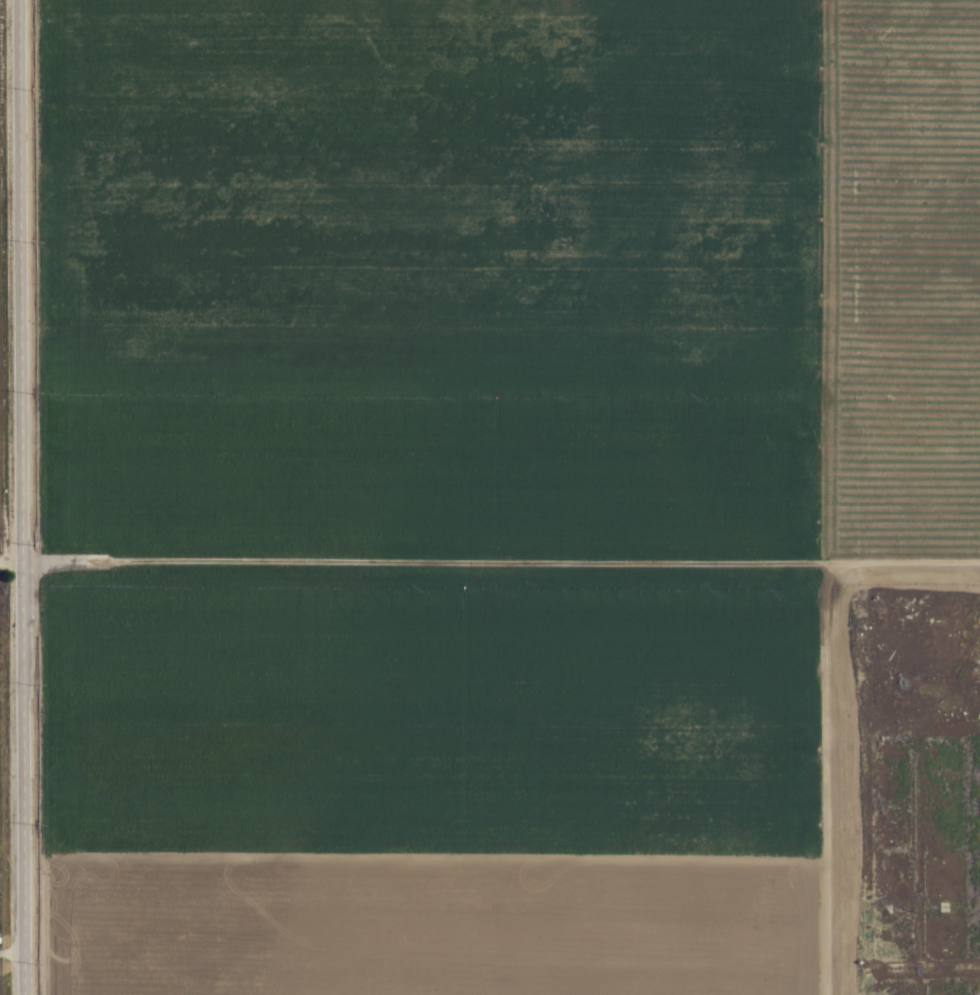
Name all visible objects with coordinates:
crop: (461, 471)
road: (17, 497)
road: (827, 792)

